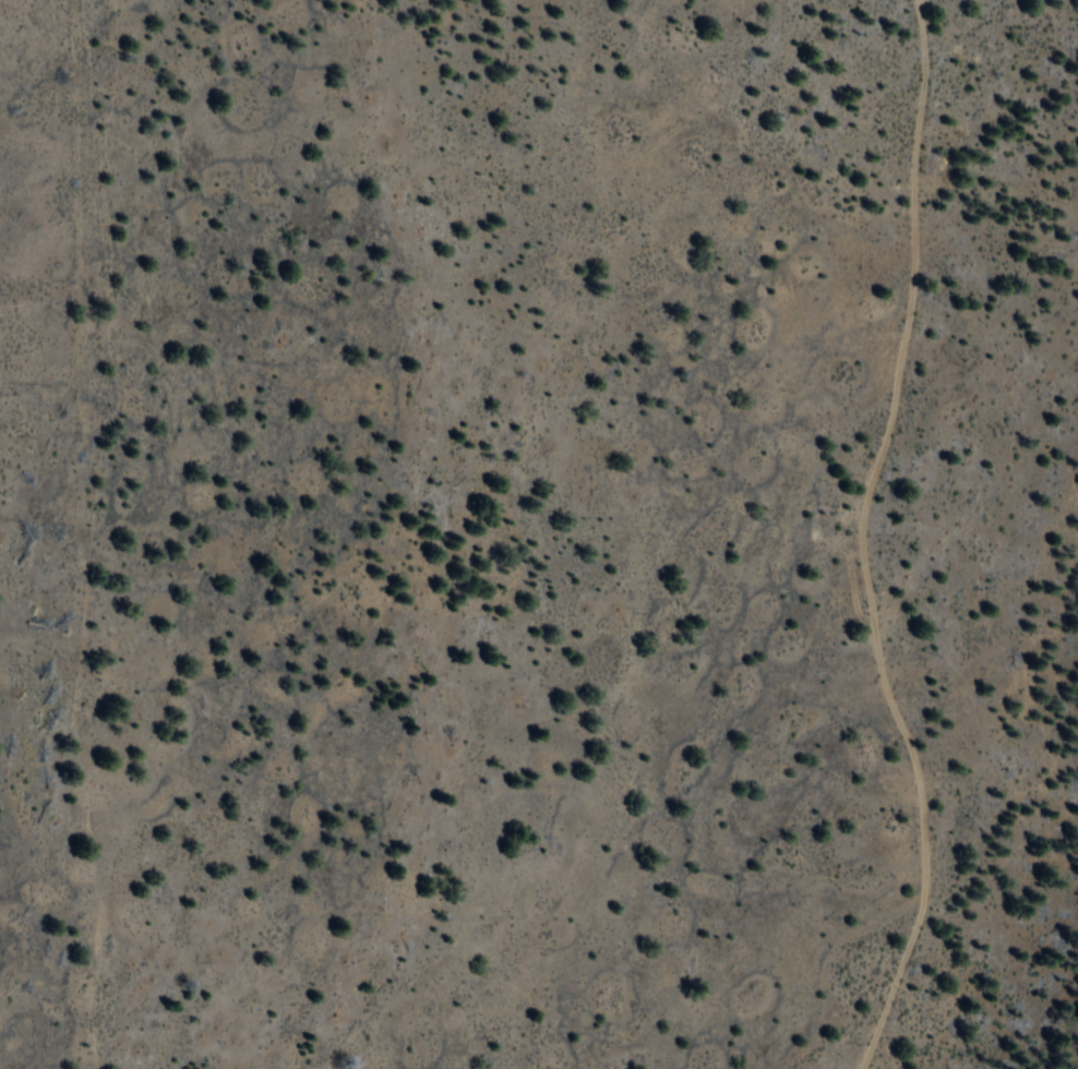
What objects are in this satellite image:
road: (863, 540)

